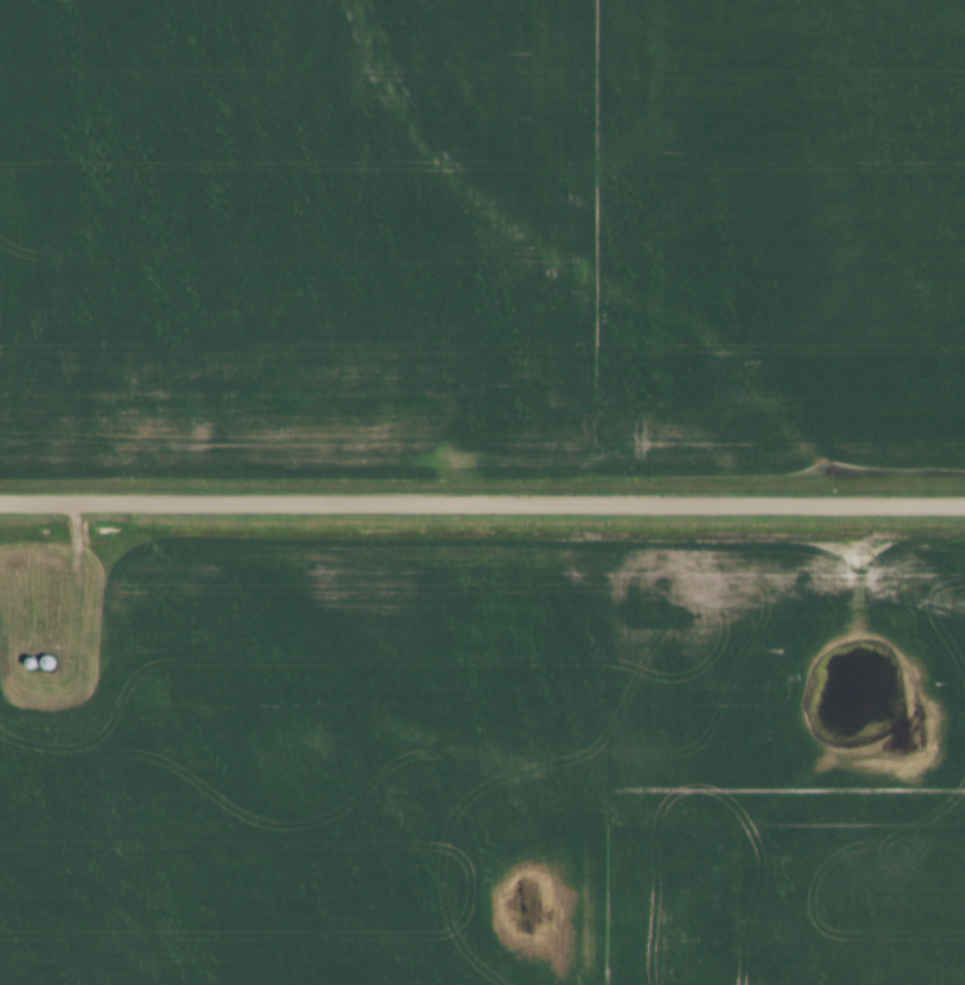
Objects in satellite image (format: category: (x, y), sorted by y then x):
road: (482, 502)
building: (42, 665)

